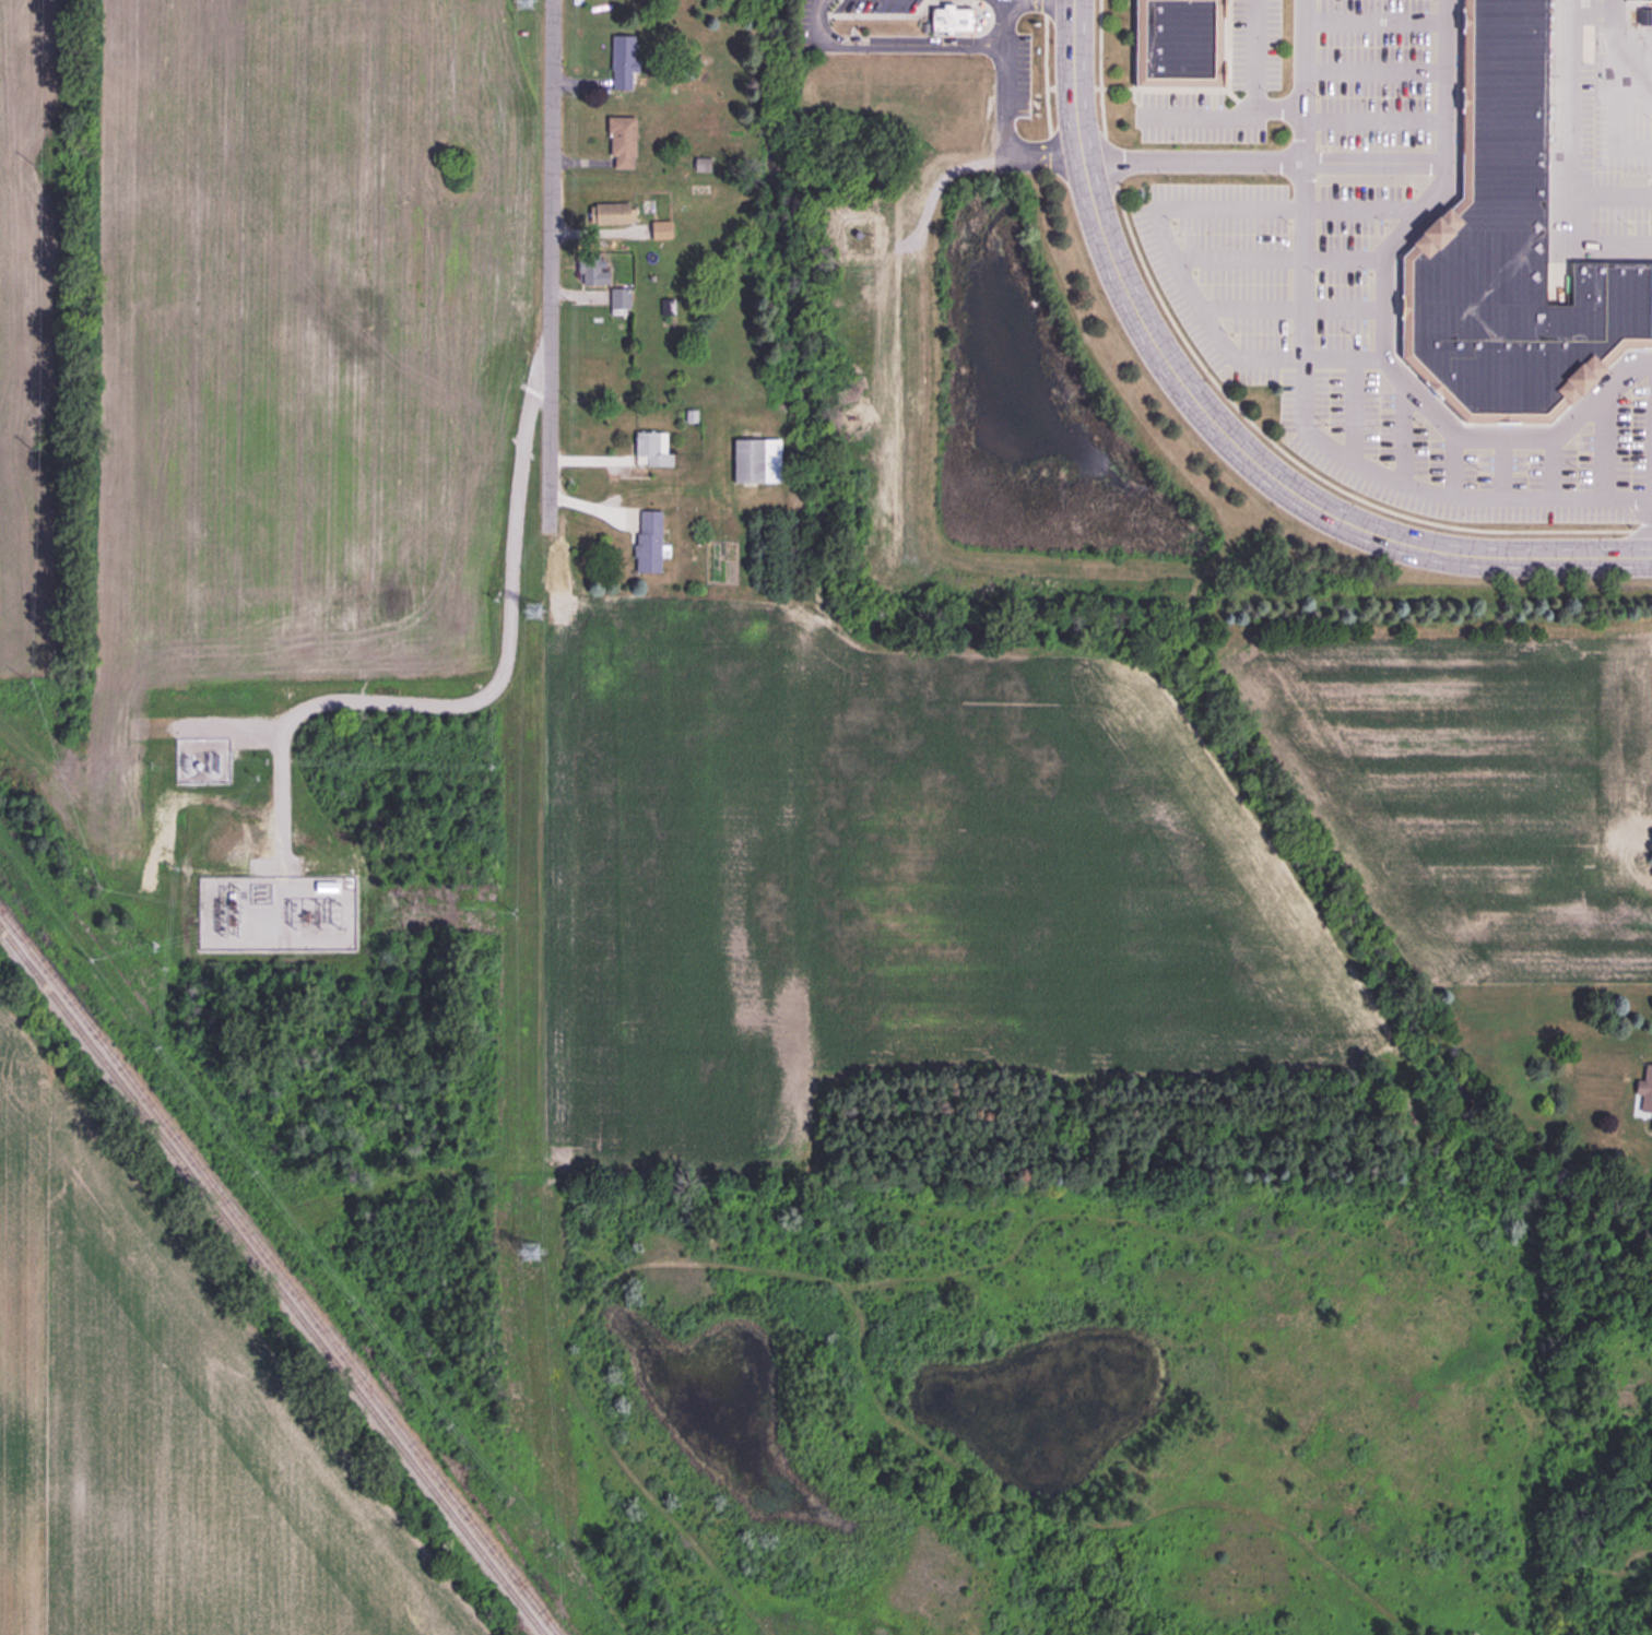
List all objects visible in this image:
building: (1637, 0)
power tower: (521, 2)
building: (947, 21)
road: (1374, 23)
building: (1176, 44)
road: (892, 45)
parking lot: (1254, 45)
building: (623, 61)
road: (1226, 61)
parking lot: (1374, 73)
road: (1374, 73)
road: (1045, 76)
road: (1135, 90)
road: (1629, 91)
road: (1606, 98)
road: (1279, 109)
road: (1255, 110)
road: (1005, 115)
road: (1374, 121)
parking lot: (1598, 131)
building: (619, 140)
road: (1264, 164)
road: (1569, 166)
road: (1610, 196)
building: (613, 213)
building: (662, 230)
road: (1163, 236)
building: (1508, 251)
road: (1281, 261)
road: (550, 266)
building: (592, 270)
building: (621, 298)
building: (668, 306)
road: (1294, 309)
road: (1386, 333)
parking lot: (1361, 355)
road: (1302, 396)
road: (1238, 412)
road: (1353, 412)
building: (691, 415)
road: (1219, 430)
road: (1402, 430)
road: (1604, 445)
building: (651, 449)
building: (755, 461)
road: (1452, 462)
road: (1502, 469)
road: (1553, 469)
building: (646, 543)
power tower: (528, 616)
road: (484, 698)
road: (226, 726)
power substation: (278, 911)
power tower: (508, 916)
building: (1644, 1090)
building: (1651, 1125)
power tower: (522, 1261)
railway: (276, 1273)
railway: (271, 1282)
crop: (164, 1422)

